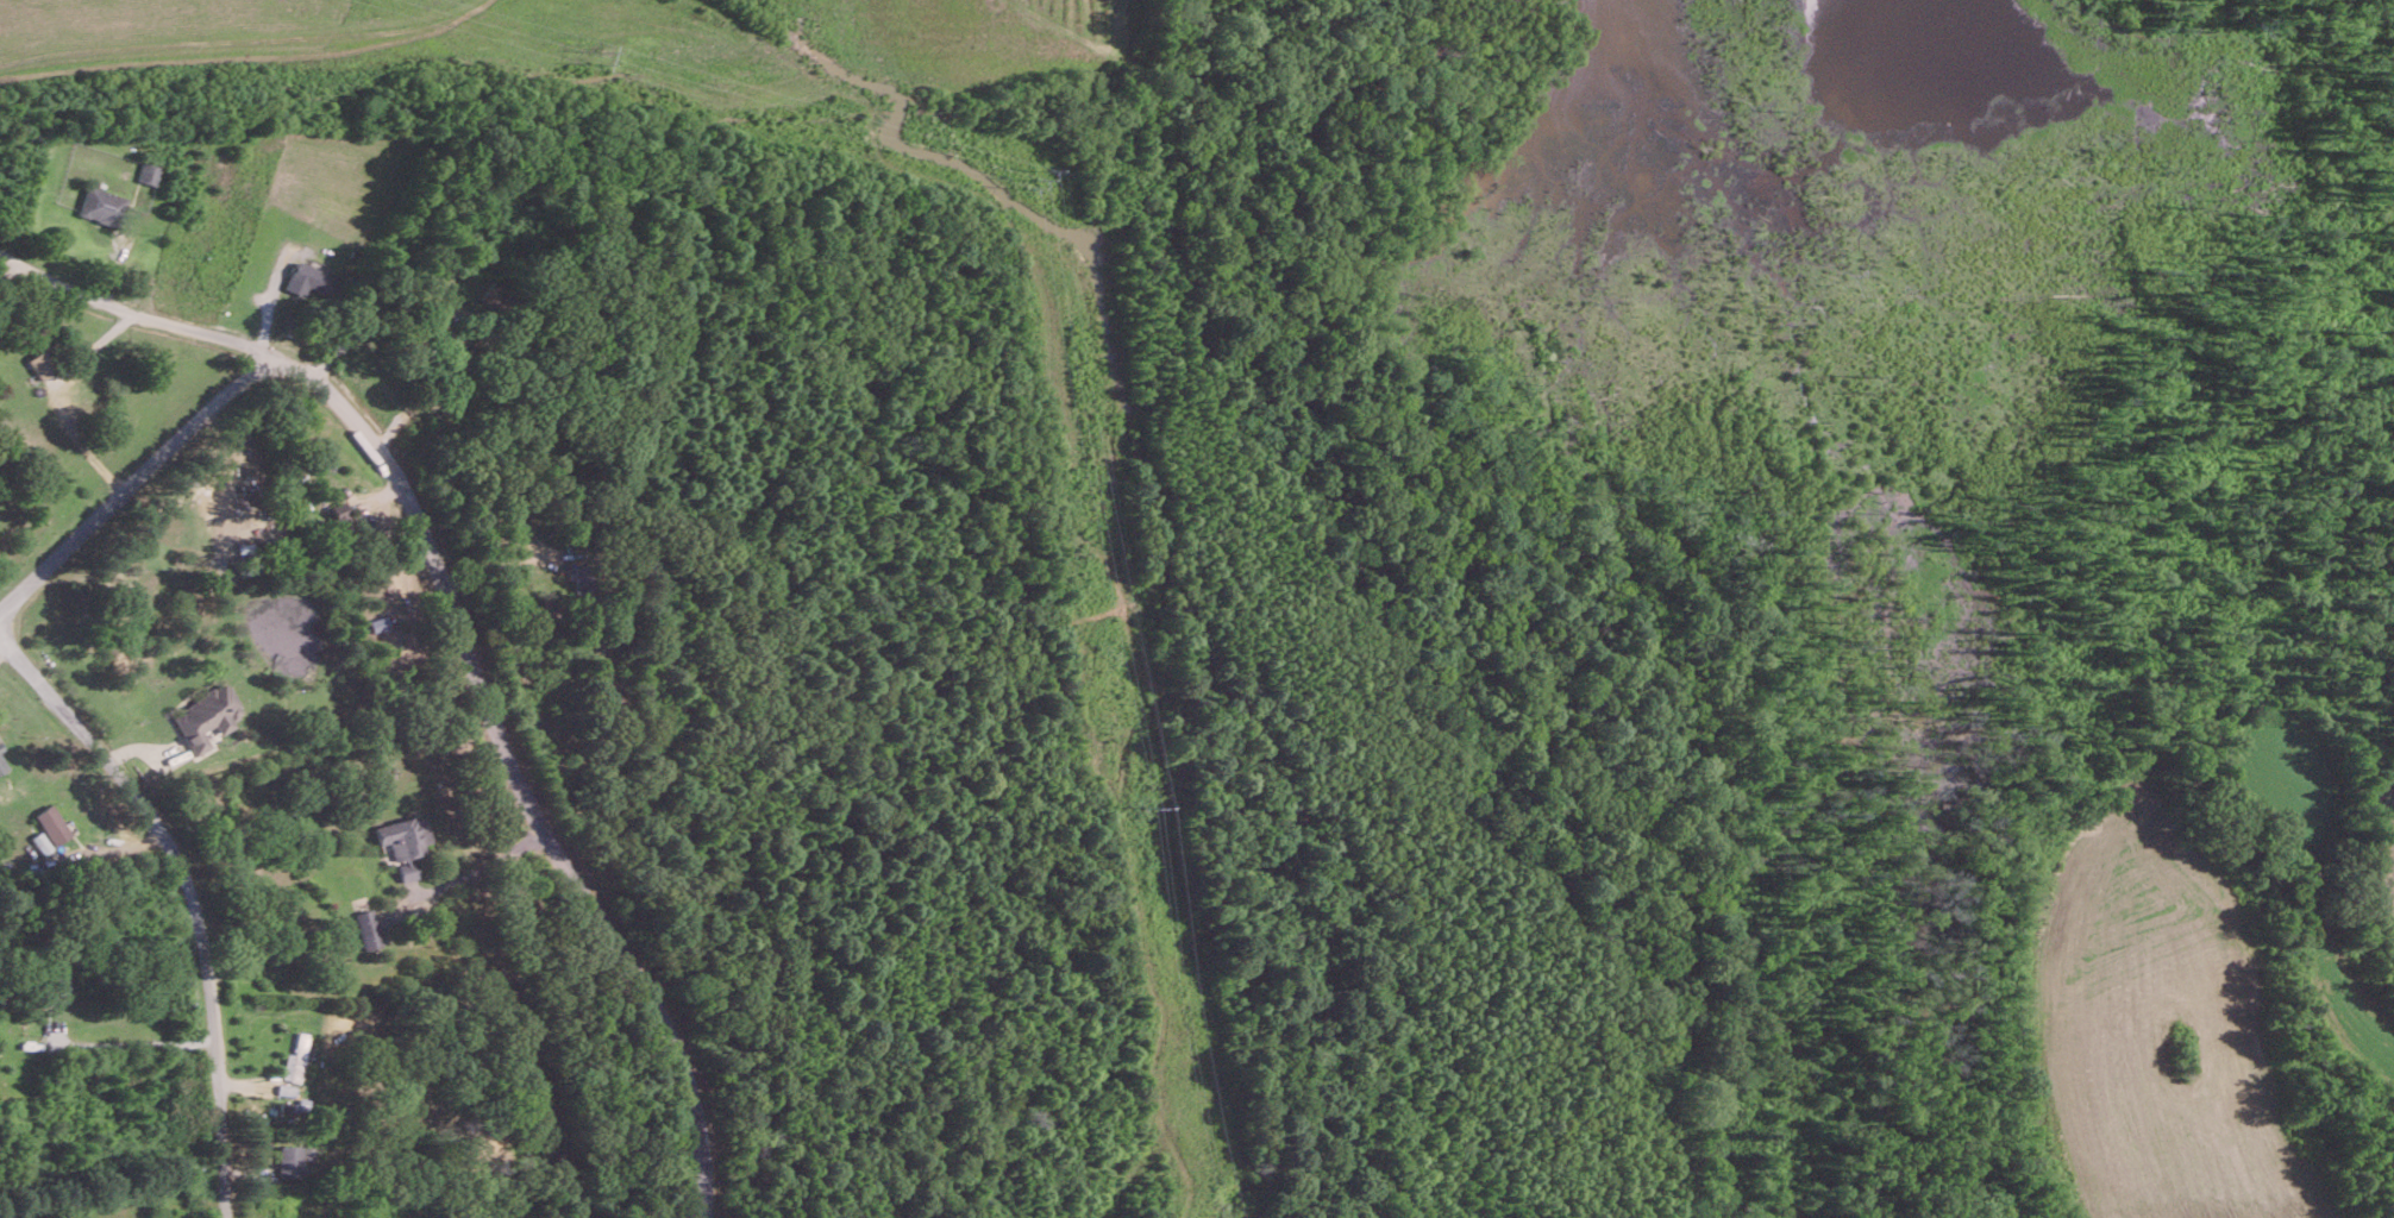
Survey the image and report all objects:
crop: (581, 43)
power tower: (604, 59)
building: (150, 172)
power tower: (1036, 181)
building: (102, 205)
building: (309, 280)
road: (126, 314)
road: (440, 325)
building: (39, 364)
road: (58, 398)
road: (131, 481)
building: (339, 511)
building: (207, 716)
building: (0, 749)
road: (518, 762)
building: (2, 764)
power tower: (1151, 805)
building: (51, 823)
building: (403, 835)
building: (39, 841)
building: (408, 868)
road: (472, 871)
road: (188, 894)
building: (368, 928)
road: (134, 1042)
building: (295, 1057)
building: (289, 1160)

